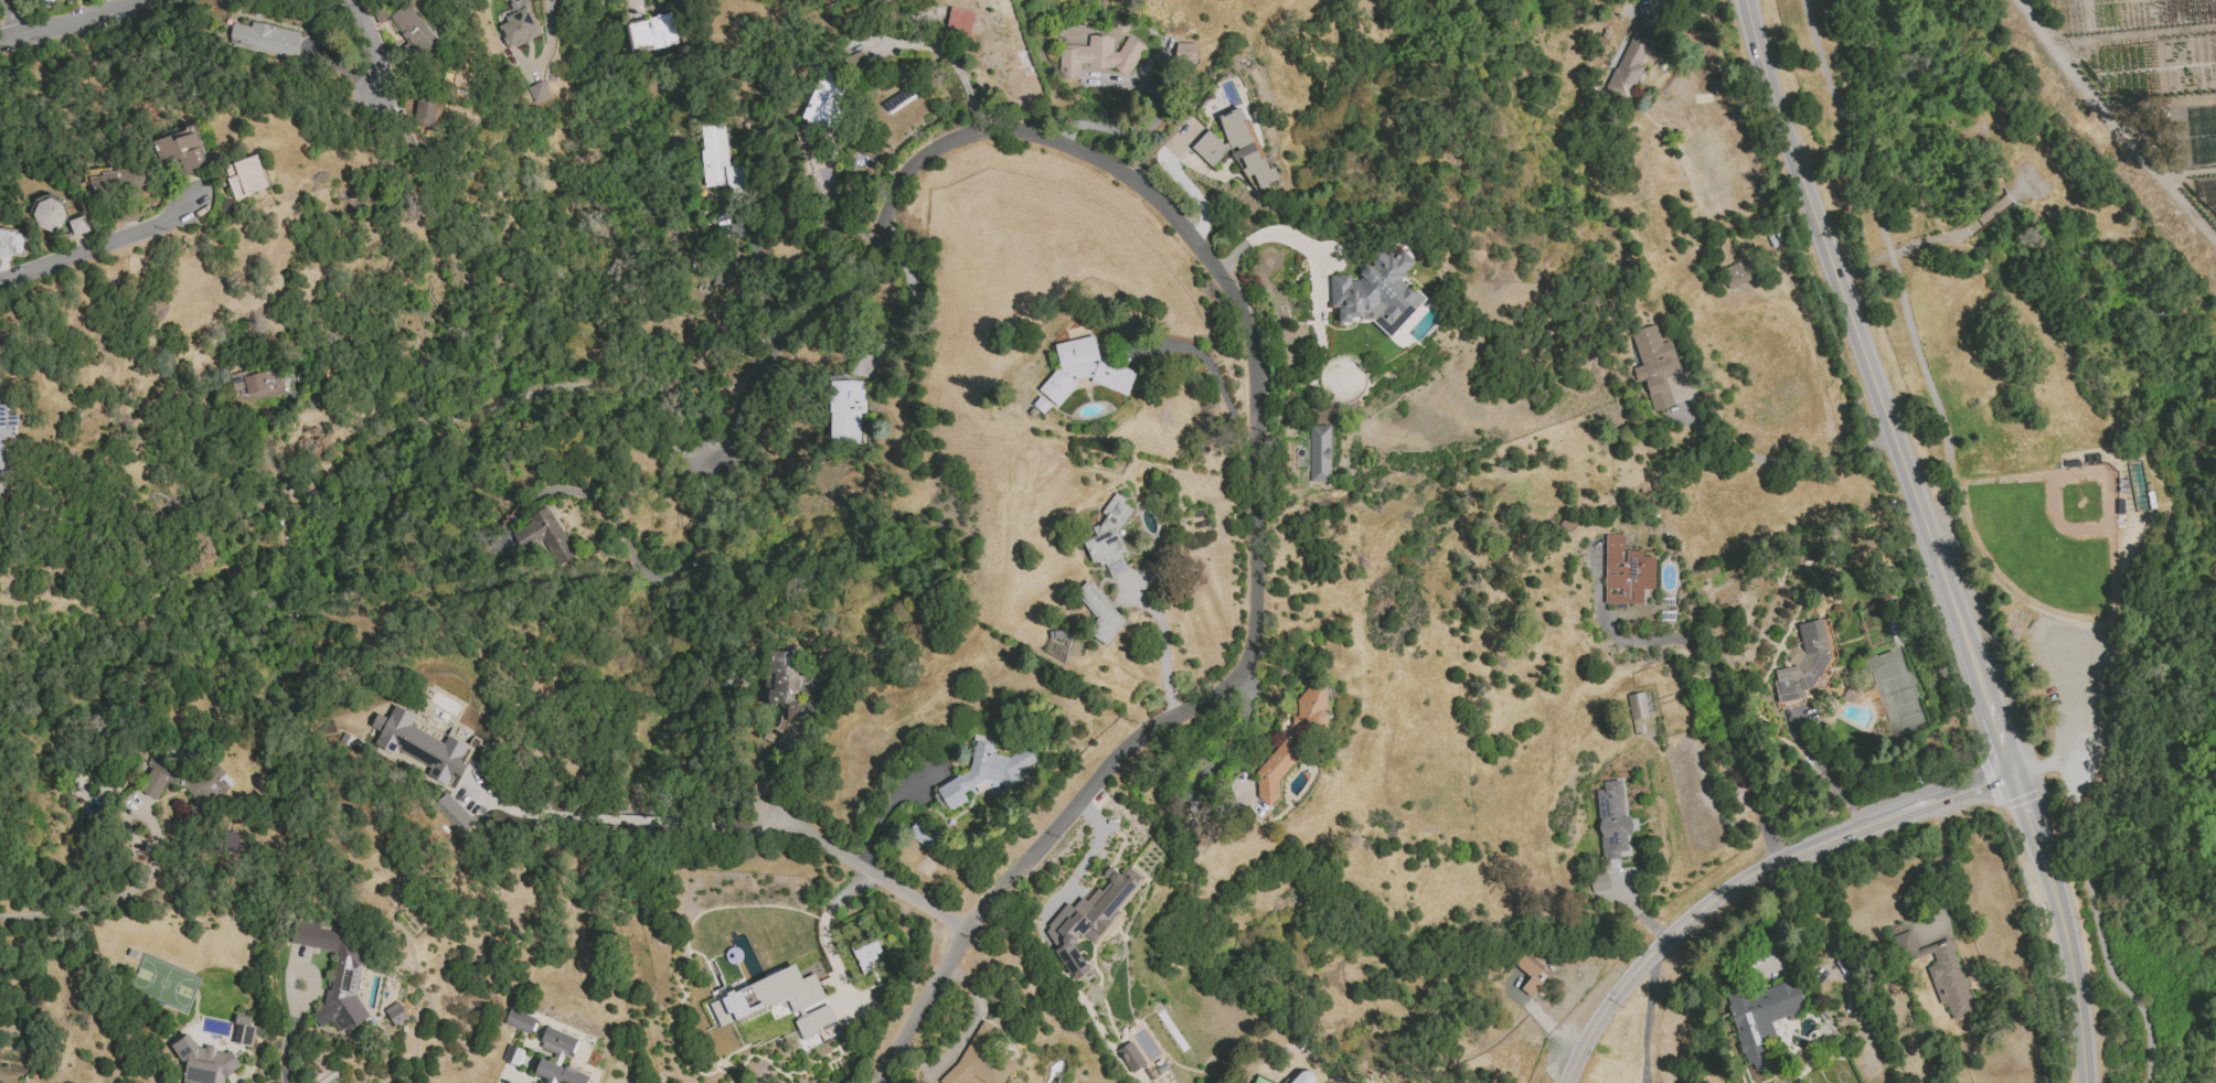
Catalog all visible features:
road: (1673, 15)
building: (959, 19)
road: (14, 21)
building: (516, 23)
road: (71, 26)
building: (412, 30)
building: (652, 32)
road: (2133, 35)
road: (365, 36)
building: (265, 39)
road: (547, 40)
building: (1185, 53)
building: (1098, 56)
building: (1632, 57)
road: (950, 60)
building: (855, 61)
building: (539, 92)
building: (827, 99)
building: (424, 110)
road: (2112, 124)
building: (1208, 148)
building: (1246, 148)
building: (179, 152)
building: (718, 158)
building: (247, 174)
building: (117, 181)
building: (49, 214)
building: (78, 225)
road: (1280, 234)
building: (10, 243)
road: (99, 246)
crop: (2113, 255)
building: (1738, 272)
building: (723, 281)
road: (764, 281)
building: (1377, 293)
road: (909, 303)
road: (1863, 353)
building: (1654, 366)
road: (2135, 367)
building: (1084, 371)
road: (1213, 373)
building: (255, 385)
road: (540, 385)
road: (1256, 387)
building: (846, 409)
building: (6, 428)
building: (1319, 453)
road: (1787, 464)
building: (2140, 487)
building: (2120, 506)
building: (545, 535)
park: (2049, 536)
building: (1109, 537)
road: (1961, 549)
road: (631, 554)
building: (1626, 572)
building: (1100, 612)
road: (1162, 642)
building: (1809, 664)
building: (785, 700)
road: (1719, 701)
building: (1637, 706)
road: (2079, 727)
building: (1293, 740)
road: (2000, 742)
building: (419, 743)
road: (1223, 757)
road: (773, 769)
building: (984, 773)
road: (1825, 776)
road: (887, 805)
building: (452, 813)
road: (2027, 814)
building: (1611, 819)
road: (596, 832)
building: (923, 834)
road: (1088, 853)
road: (864, 868)
road: (1751, 878)
building: (1599, 882)
road: (2054, 891)
road: (104, 902)
building: (1089, 918)
road: (1775, 923)
road: (822, 936)
building: (866, 955)
building: (1940, 973)
building: (1528, 975)
building: (338, 976)
building: (777, 1001)
road: (2077, 1008)
building: (779, 1010)
building: (395, 1014)
building: (1760, 1016)
road: (1644, 1020)
building: (520, 1021)
building: (243, 1030)
building: (557, 1043)
road: (284, 1050)
building: (512, 1055)
building: (1130, 1057)
building: (981, 1058)
building: (204, 1062)
building: (558, 1073)
building: (1301, 1077)
building: (1259, 1080)

